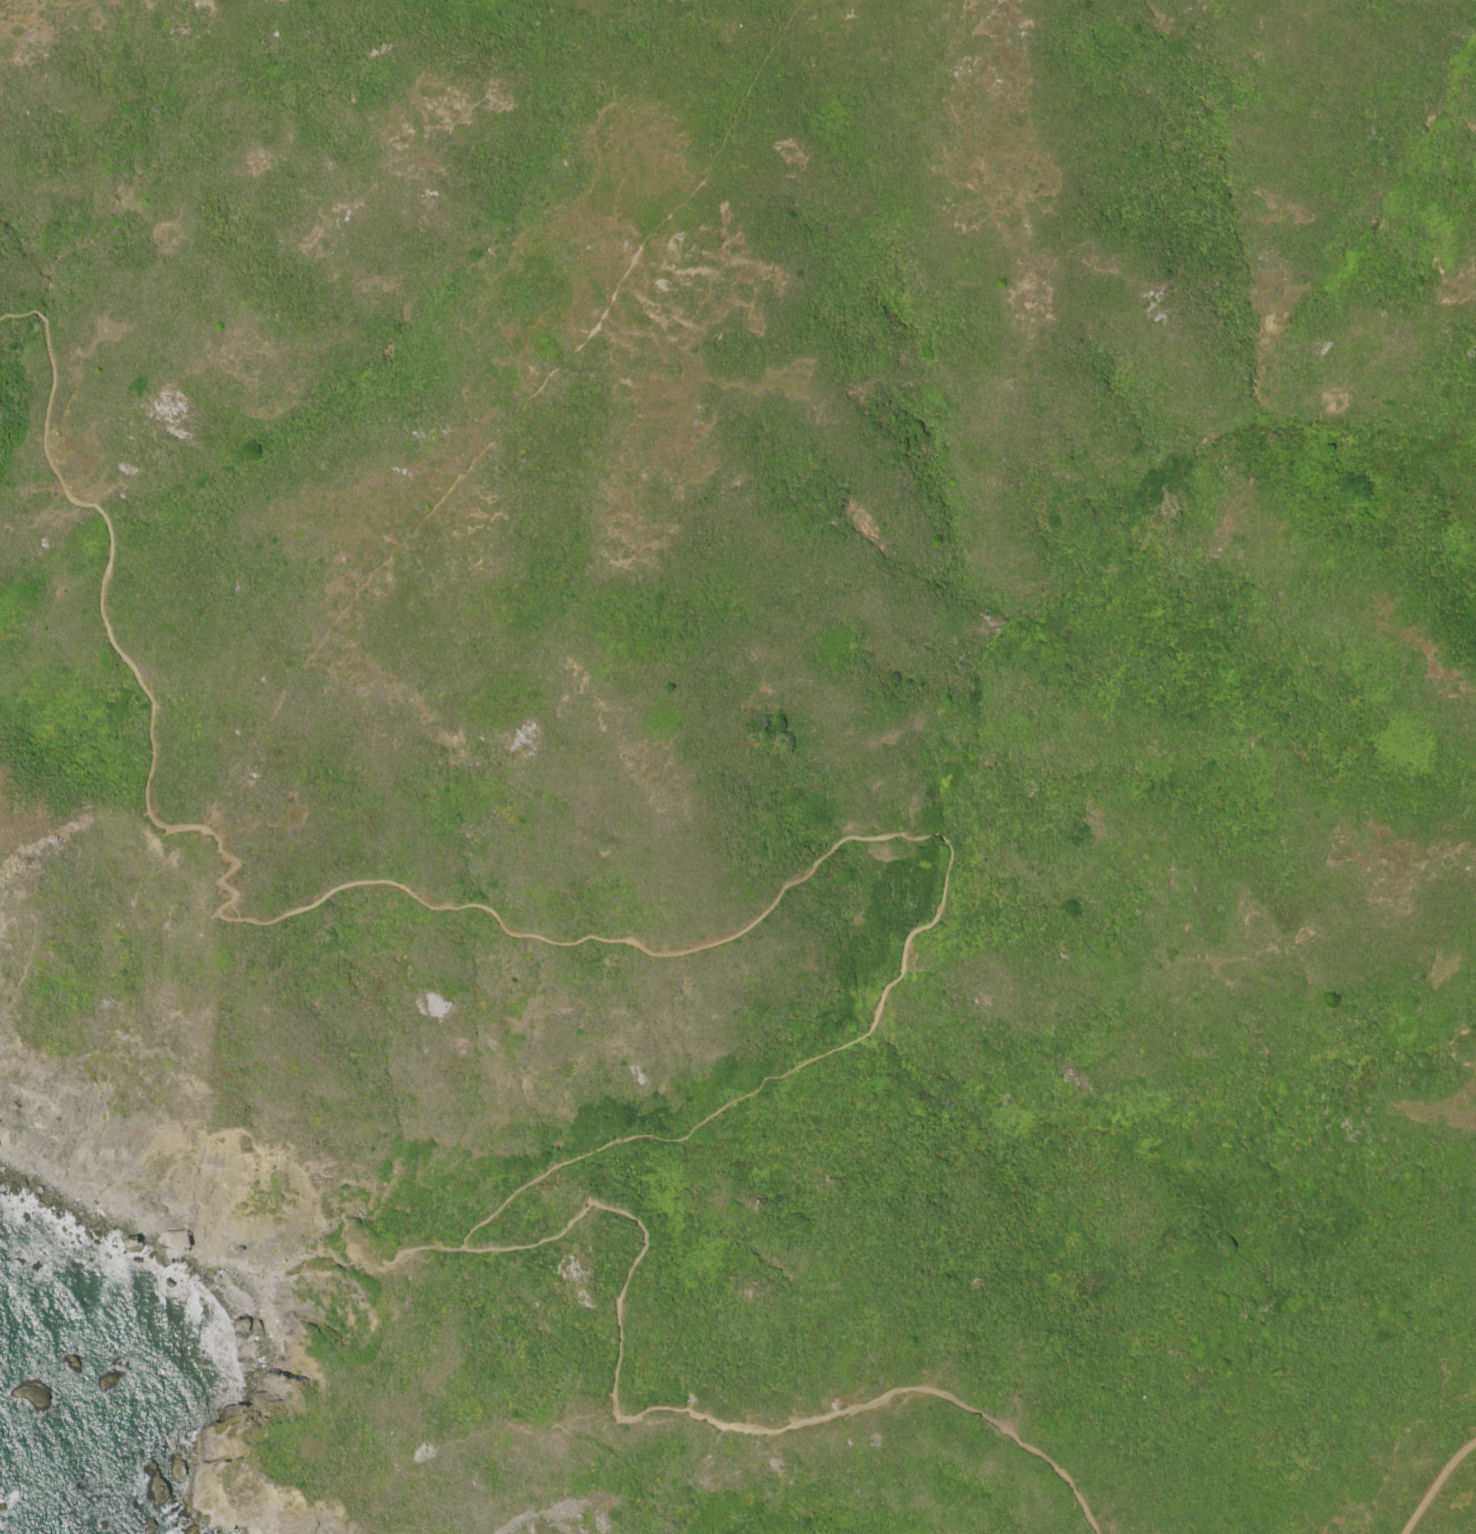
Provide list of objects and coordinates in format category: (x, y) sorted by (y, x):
road: (15, 314)
road: (38, 316)
road: (43, 426)
road: (97, 510)
road: (680, 953)
road: (392, 1256)
road: (300, 1259)
road: (617, 1307)
road: (916, 1389)
road: (1437, 1486)

